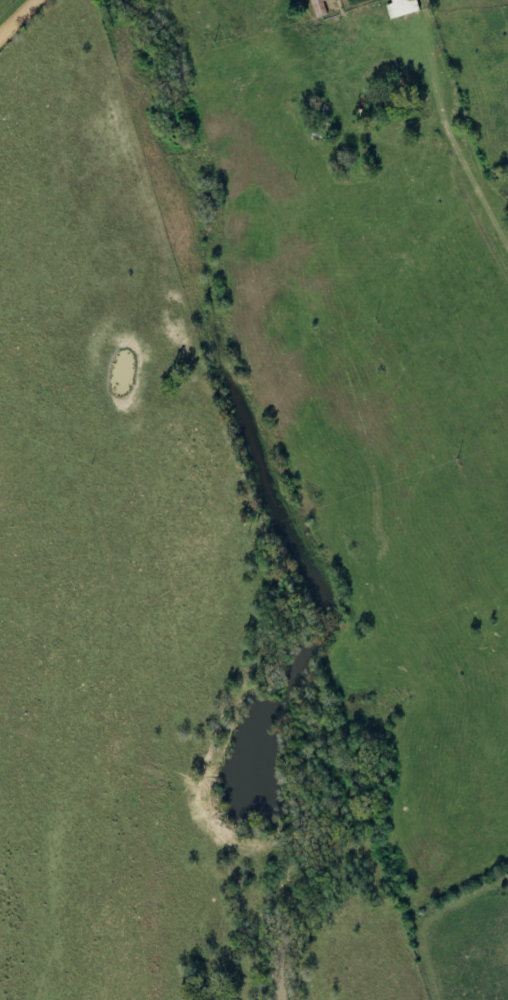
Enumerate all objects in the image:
building: (407, 7)
building: (320, 8)
road: (13, 13)

